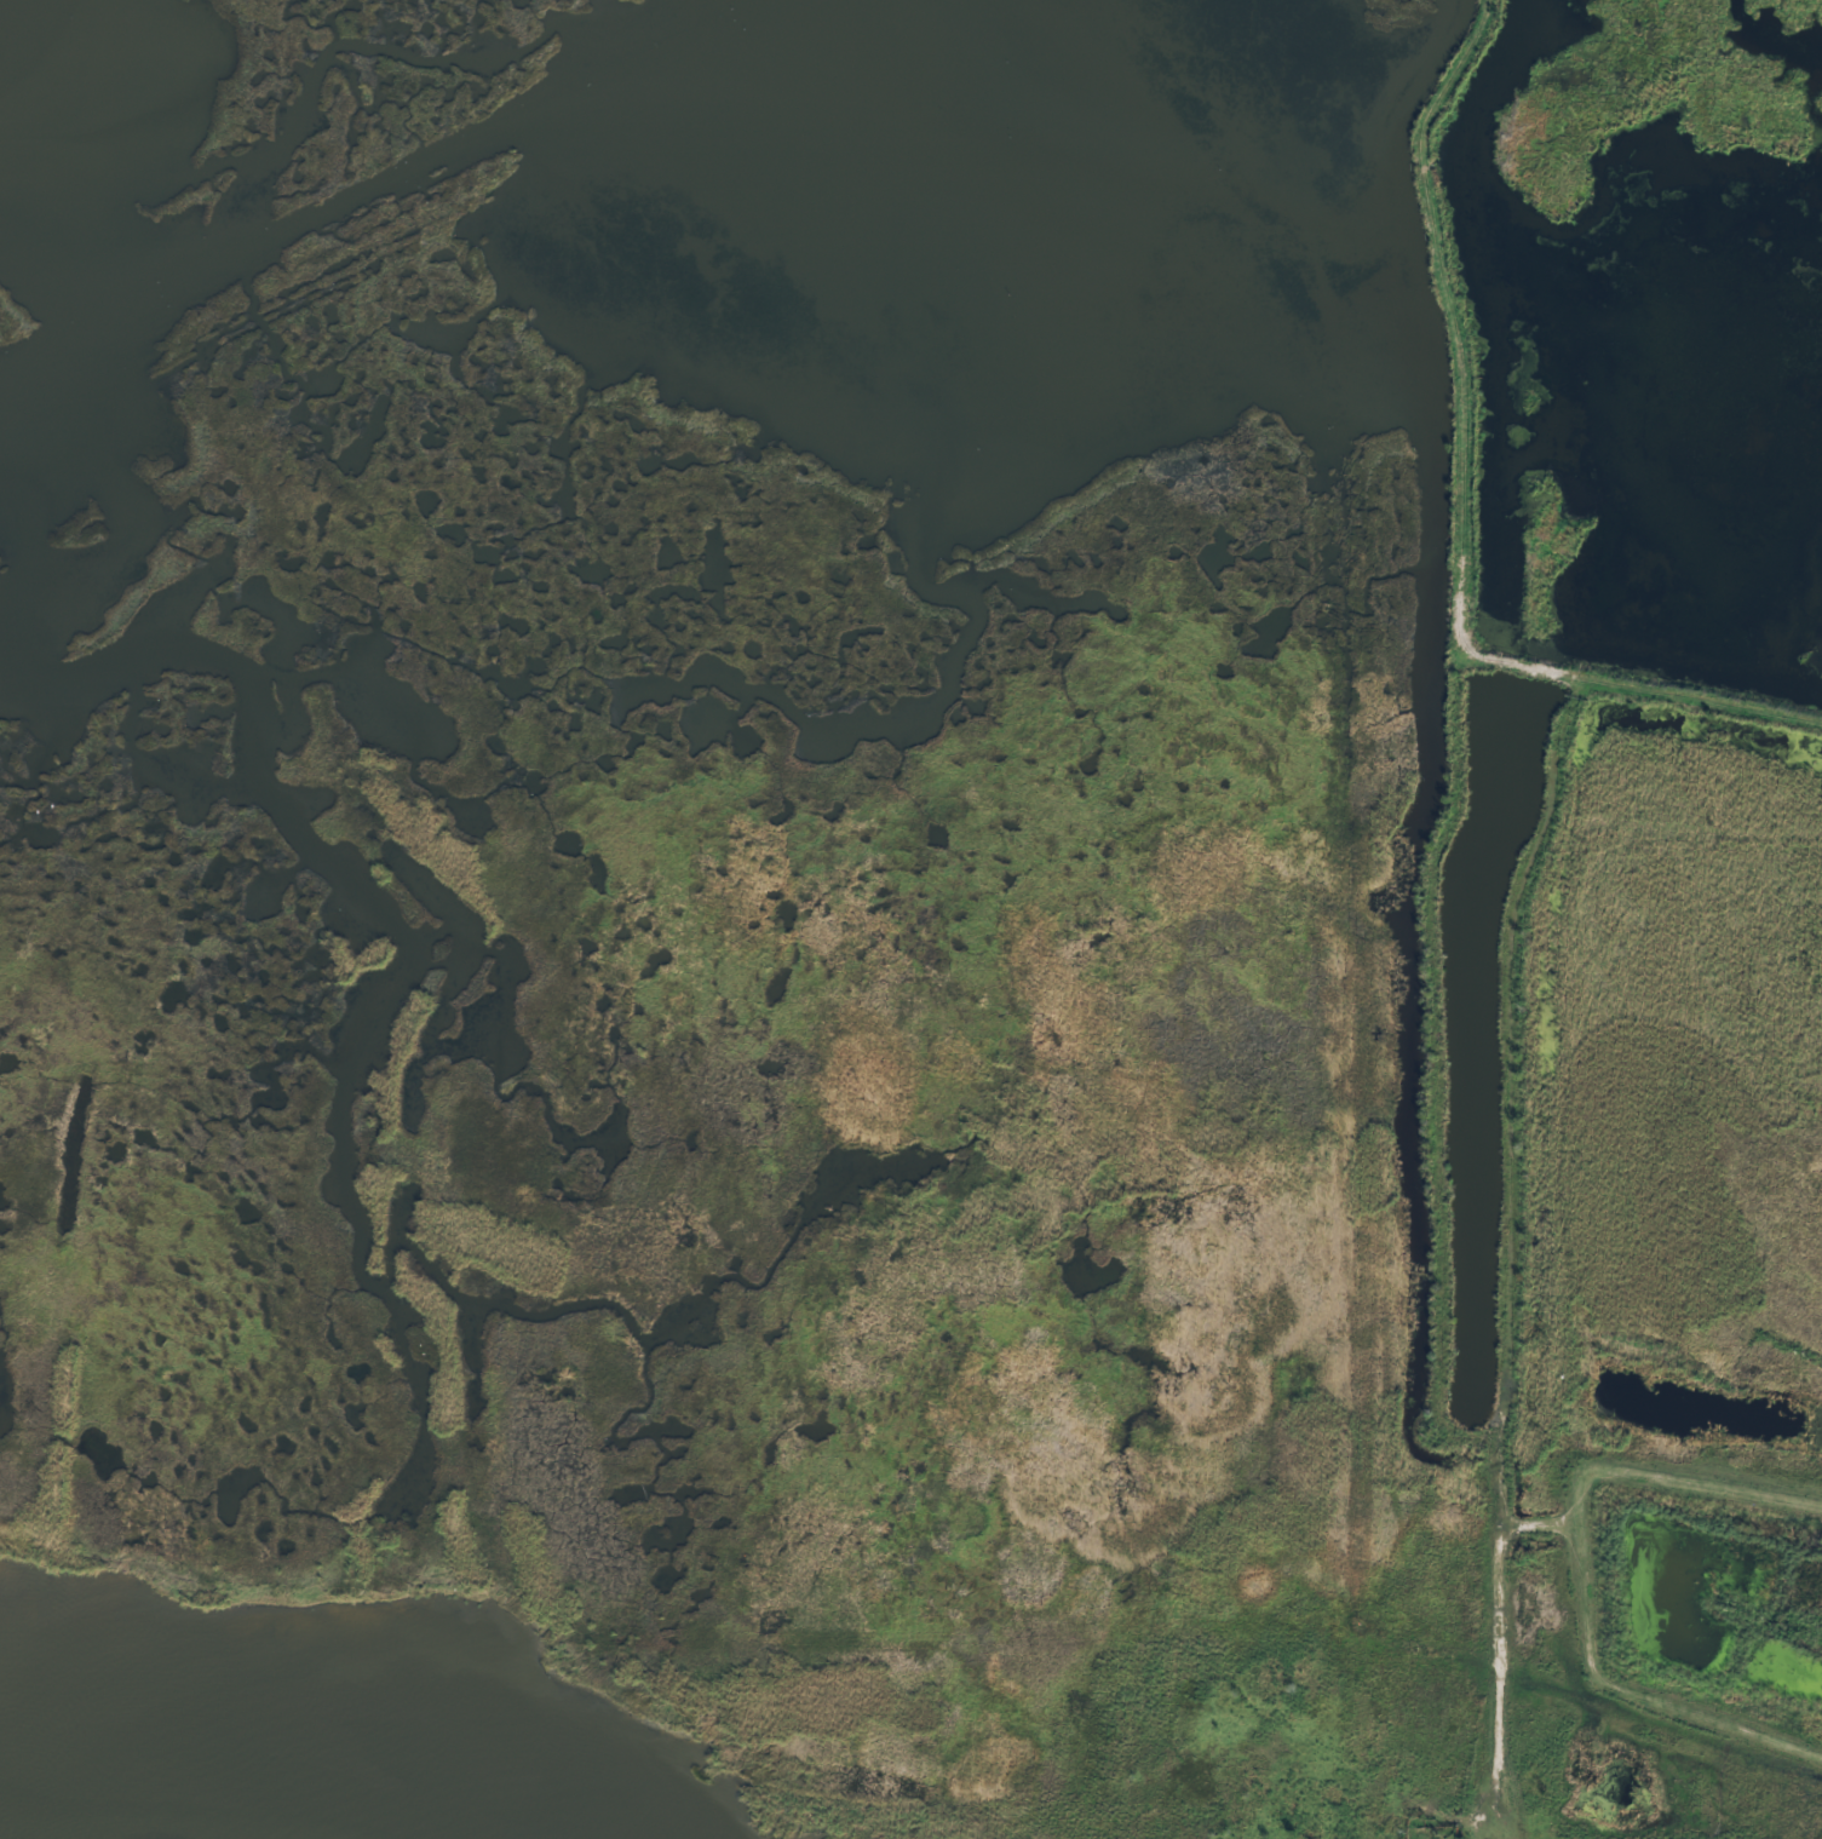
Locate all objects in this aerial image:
road: (1421, 1230)

